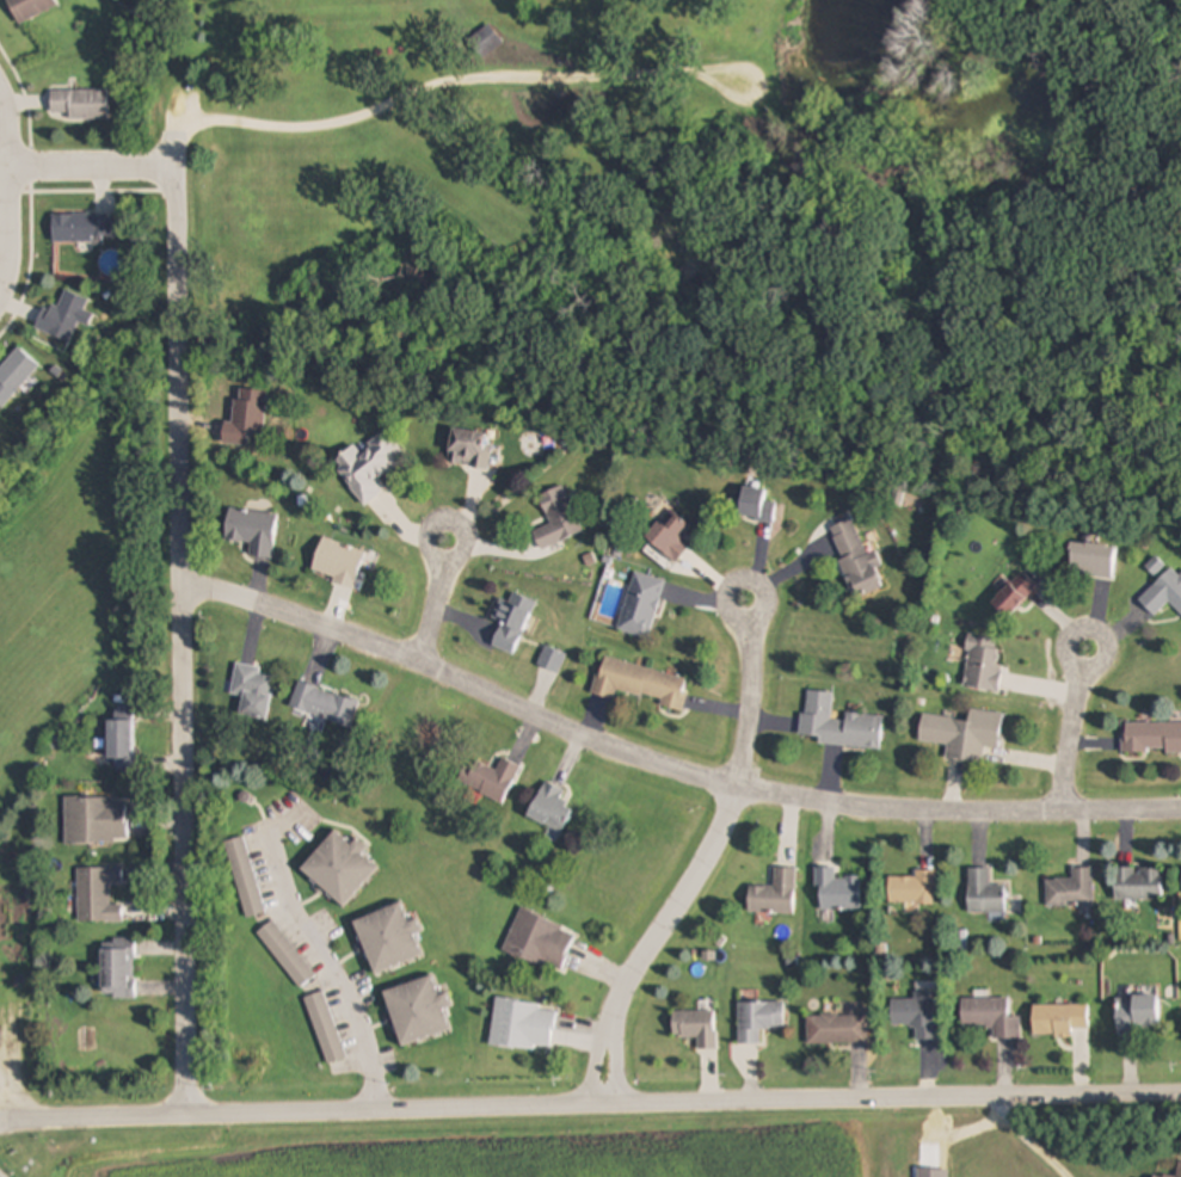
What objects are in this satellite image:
building: (30, 8)
building: (484, 42)
road: (444, 84)
building: (80, 105)
road: (99, 165)
road: (18, 210)
park: (706, 224)
building: (81, 227)
building: (62, 316)
building: (16, 374)
building: (470, 449)
building: (369, 466)
building: (756, 505)
building: (558, 519)
building: (253, 530)
building: (671, 537)
building: (856, 560)
building: (1093, 560)
building: (338, 562)
building: (1164, 593)
building: (1015, 594)
road: (439, 604)
building: (641, 605)
building: (512, 622)
road: (192, 633)
building: (552, 660)
building: (983, 663)
building: (641, 684)
building: (253, 691)
road: (750, 701)
building: (324, 704)
building: (838, 725)
road: (1070, 733)
building: (964, 734)
building: (1151, 738)
building: (121, 739)
road: (673, 763)
building: (491, 778)
building: (550, 808)
building: (96, 821)
building: (340, 868)
building: (245, 877)
building: (1138, 883)
building: (914, 889)
building: (1071, 889)
building: (837, 892)
building: (985, 893)
building: (97, 894)
building: (775, 894)
road: (652, 937)
building: (389, 938)
building: (540, 941)
road: (318, 951)
building: (287, 955)
building: (118, 968)
building: (419, 1011)
building: (917, 1015)
building: (1137, 1015)
building: (991, 1018)
building: (759, 1021)
building: (1060, 1021)
building: (523, 1025)
building: (696, 1028)
building: (325, 1029)
building: (838, 1030)
road: (590, 1102)
road: (1028, 1139)
building: (1179, 1170)
building: (1158, 1176)

